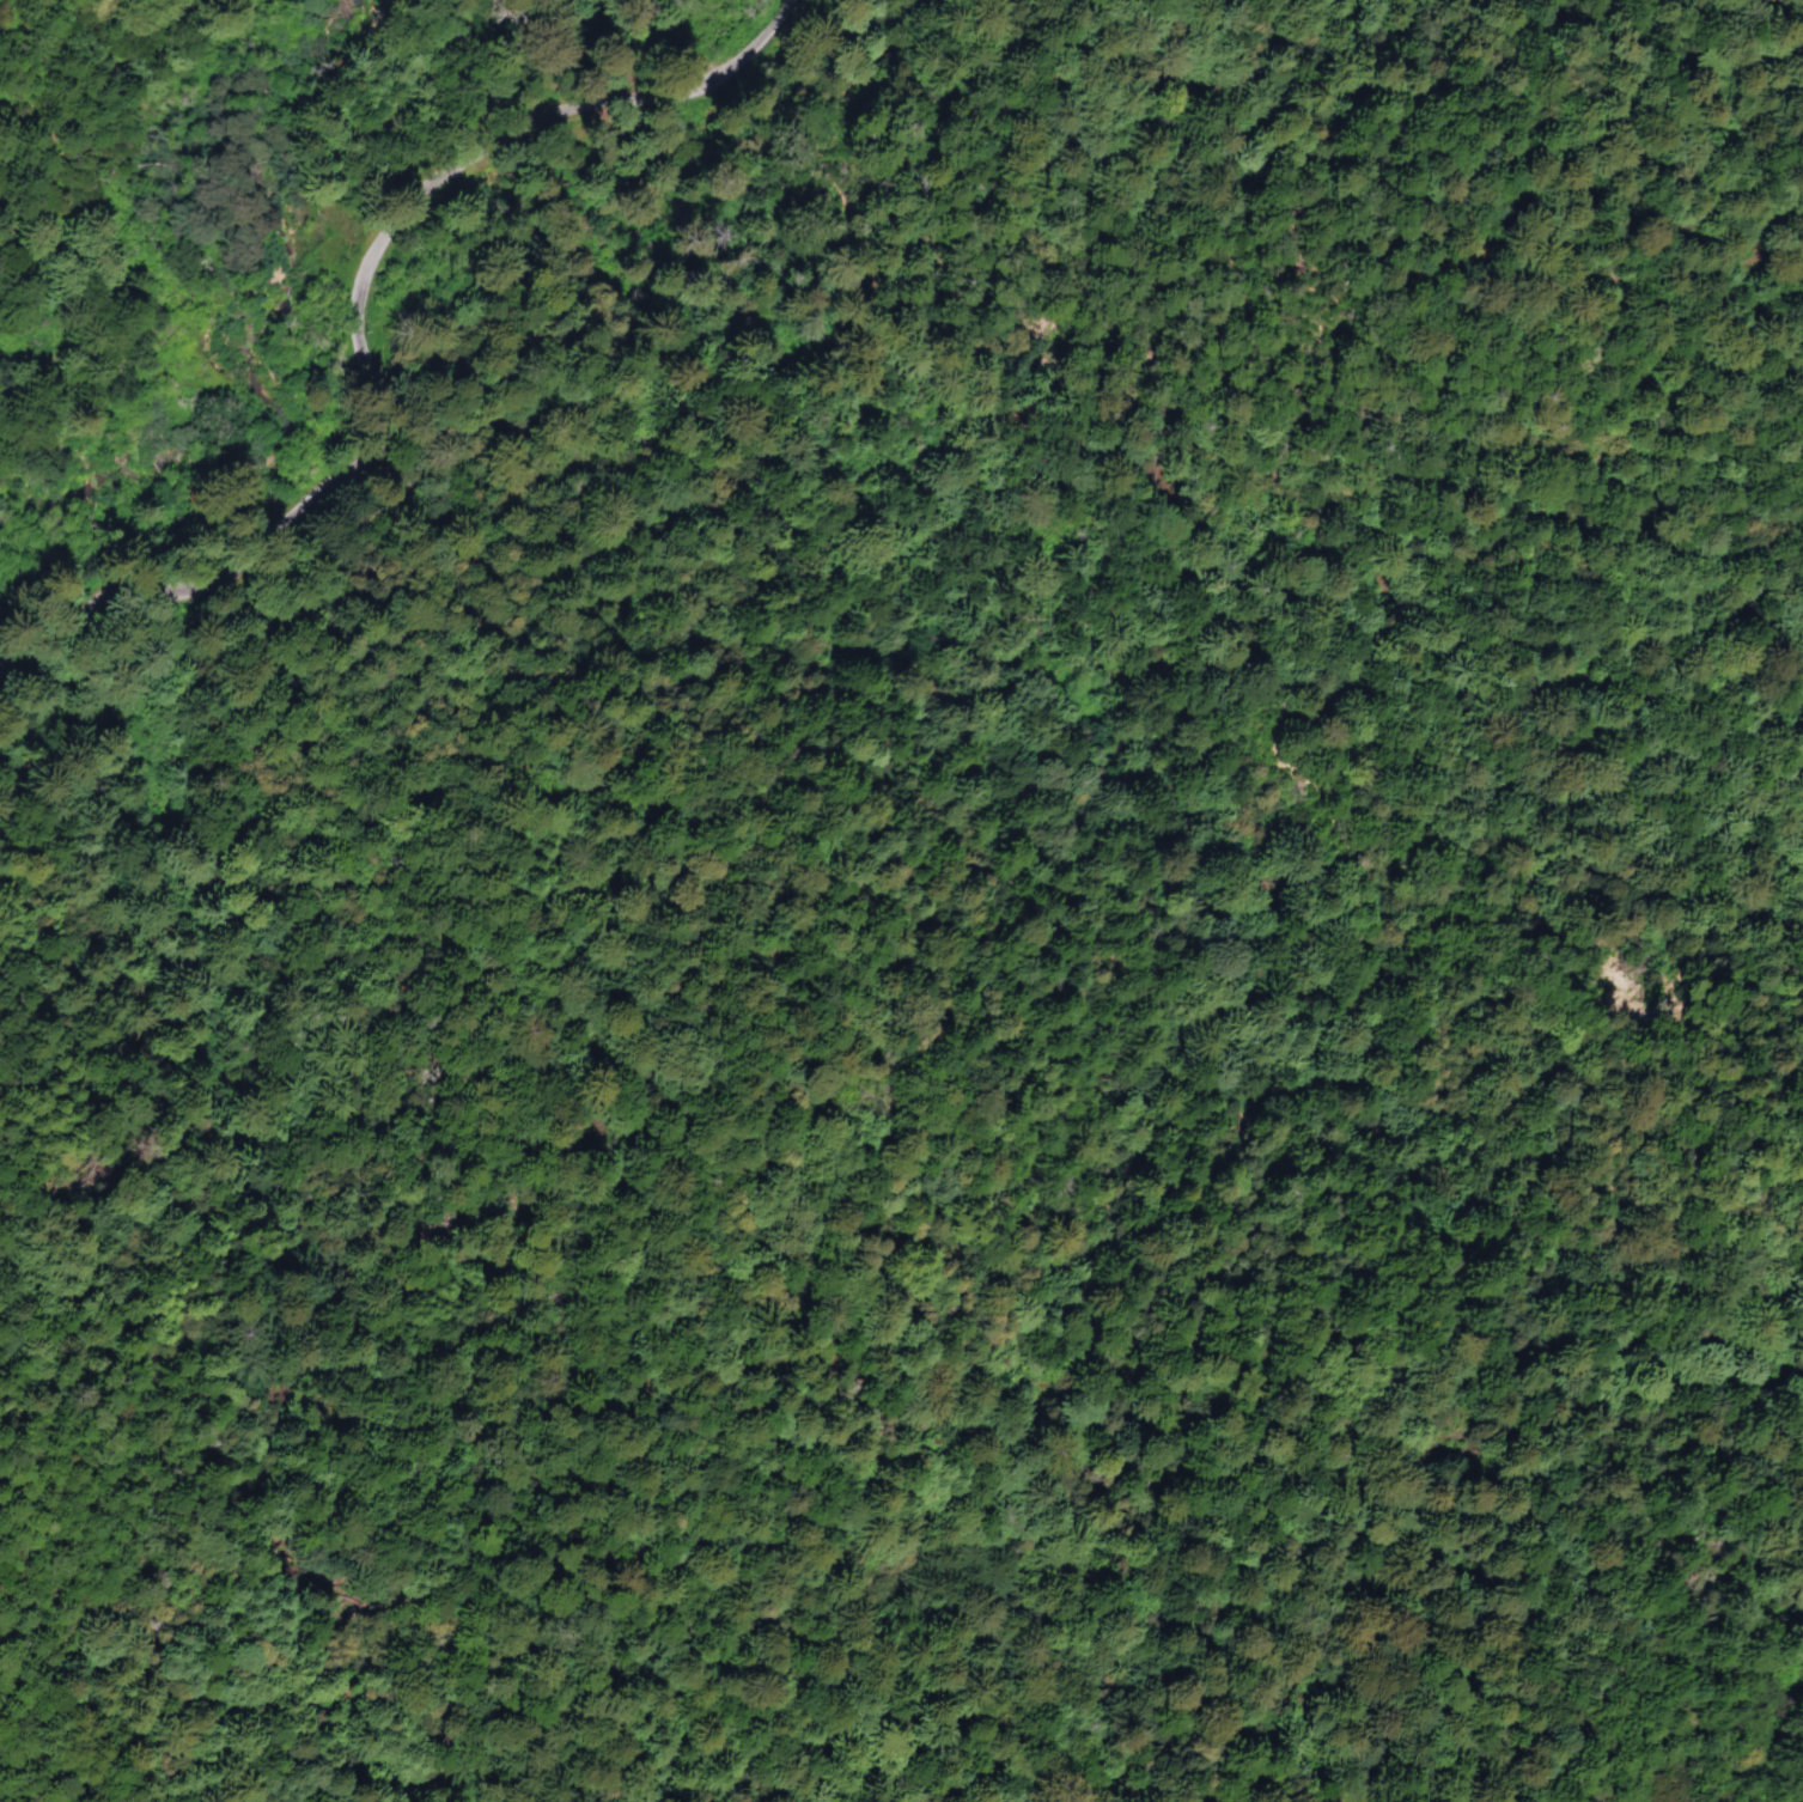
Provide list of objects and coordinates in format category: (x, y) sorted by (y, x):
road: (357, 312)

